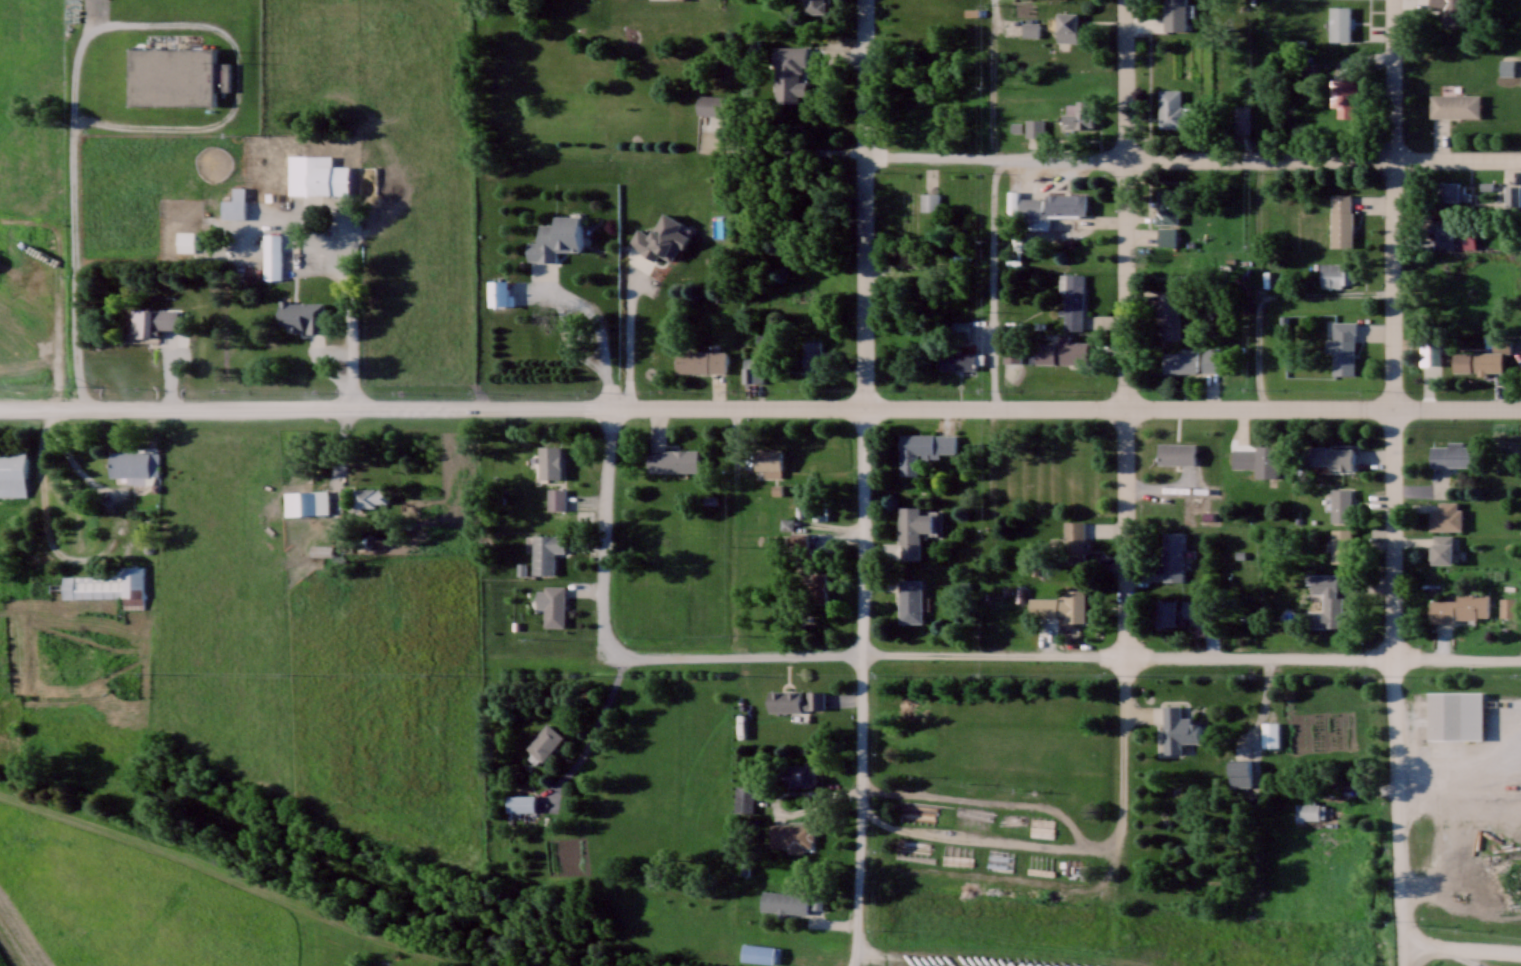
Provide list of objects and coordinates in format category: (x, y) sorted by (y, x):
building: (814, 6)
building: (1448, 10)
building: (1175, 14)
building: (1340, 22)
building: (1067, 25)
road: (91, 27)
building: (1030, 28)
building: (1506, 66)
building: (790, 72)
building: (177, 75)
road: (993, 79)
building: (1345, 96)
building: (710, 103)
building: (1454, 105)
building: (1172, 108)
building: (1078, 111)
building: (1242, 120)
building: (1035, 126)
road: (785, 150)
road: (1193, 158)
building: (305, 171)
building: (1449, 191)
building: (929, 200)
road: (865, 201)
road: (1129, 203)
building: (235, 204)
building: (1052, 204)
building: (1167, 204)
road: (1393, 204)
building: (1341, 219)
building: (323, 230)
building: (1444, 233)
building: (1167, 235)
building: (555, 237)
building: (185, 240)
building: (272, 253)
building: (1336, 274)
building: (497, 291)
road: (1268, 292)
building: (1072, 299)
road: (59, 314)
building: (1169, 315)
building: (302, 316)
building: (152, 320)
building: (13, 334)
road: (349, 339)
building: (1061, 351)
building: (1343, 351)
building: (816, 357)
building: (1480, 358)
building: (1210, 359)
building: (957, 360)
building: (1179, 360)
building: (700, 361)
building: (751, 371)
road: (735, 405)
road: (1129, 407)
road: (302, 408)
road: (1457, 408)
building: (922, 449)
building: (1176, 453)
building: (1453, 455)
building: (1329, 457)
building: (673, 459)
building: (1258, 459)
building: (550, 460)
building: (132, 462)
building: (768, 463)
building: (12, 471)
road: (53, 489)
building: (370, 497)
building: (556, 498)
building: (297, 502)
building: (1341, 505)
building: (1446, 516)
building: (912, 530)
road: (1397, 534)
road: (604, 538)
building: (1072, 542)
building: (1341, 545)
building: (1443, 549)
building: (546, 552)
building: (1172, 555)
building: (107, 585)
building: (910, 600)
building: (1327, 602)
building: (1074, 603)
building: (554, 605)
building: (1461, 608)
building: (1165, 612)
road: (1128, 630)
road: (1013, 659)
road: (1460, 660)
road: (863, 678)
building: (796, 700)
building: (1456, 714)
road: (1512, 714)
road: (599, 715)
building: (1177, 728)
building: (1270, 733)
building: (544, 740)
building: (1239, 773)
building: (800, 774)
road: (556, 787)
building: (743, 798)
building: (519, 802)
building: (1309, 810)
road: (1400, 813)
road: (888, 832)
building: (790, 836)
road: (1102, 852)
building: (784, 901)
road: (1460, 951)
road: (932, 958)
road: (856, 959)

